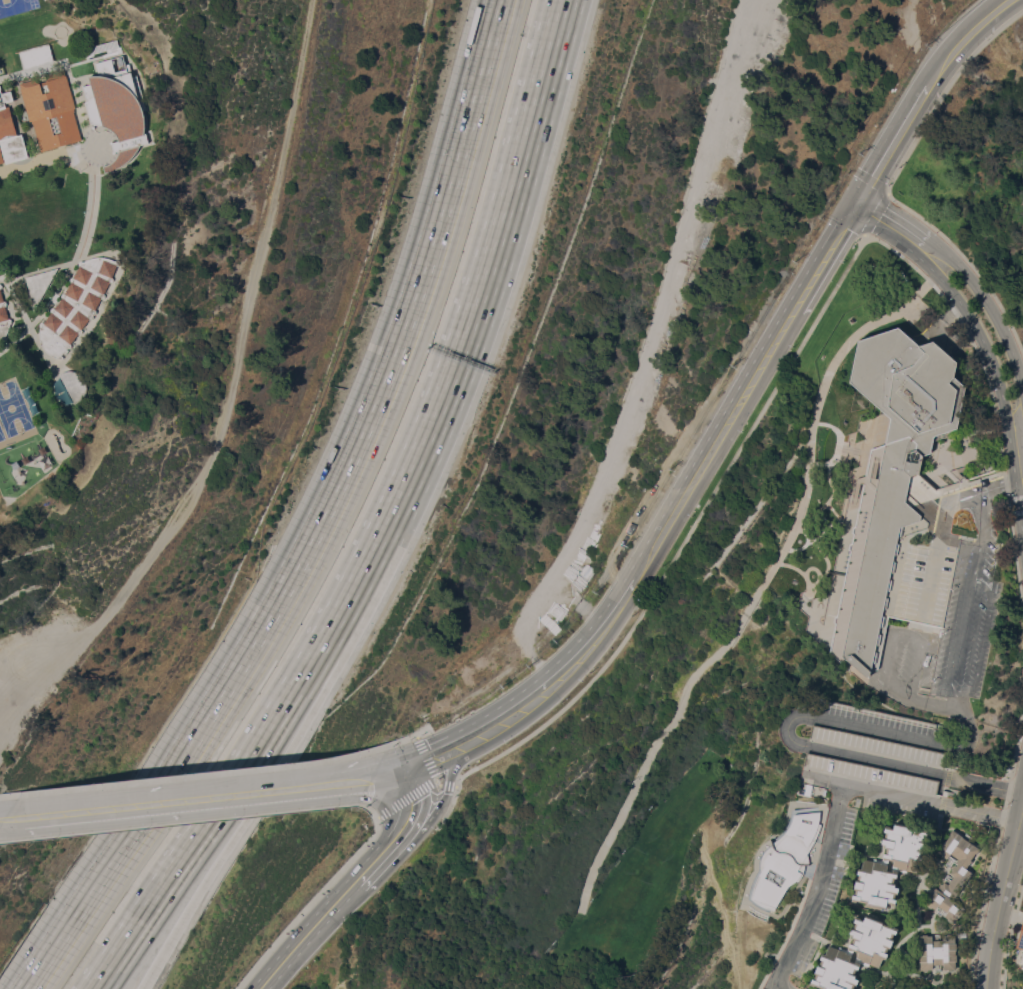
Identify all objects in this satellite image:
building: (35, 55)
building: (120, 61)
building: (0, 87)
road: (921, 93)
building: (117, 109)
building: (51, 110)
building: (9, 133)
road: (47, 156)
road: (871, 176)
road: (890, 181)
road: (505, 192)
traffic signals: (857, 203)
road: (876, 213)
road: (888, 223)
road: (826, 255)
building: (39, 284)
building: (0, 285)
building: (77, 304)
road: (987, 304)
building: (3, 318)
building: (75, 384)
road: (999, 386)
road: (228, 401)
road: (717, 444)
building: (899, 500)
road: (382, 518)
road: (321, 521)
road: (937, 541)
road: (897, 633)
parking lot: (946, 639)
road: (954, 640)
road: (570, 670)
road: (935, 702)
parking lot: (873, 716)
road: (786, 731)
building: (877, 746)
parking lot: (877, 746)
road: (447, 755)
traffic signals: (410, 769)
road: (391, 773)
building: (871, 774)
parking lot: (871, 774)
building: (808, 789)
traffic signals: (447, 792)
road: (186, 797)
road: (836, 805)
parking lot: (898, 808)
road: (439, 810)
road: (225, 819)
road: (203, 820)
road: (412, 824)
building: (902, 847)
building: (785, 858)
road: (367, 876)
building: (960, 878)
building: (874, 885)
parking lot: (828, 893)
road: (1002, 898)
road: (311, 936)
building: (1020, 937)
building: (871, 939)
building: (937, 951)
building: (1022, 953)
building: (1022, 958)
building: (835, 970)
parking lot: (763, 988)

